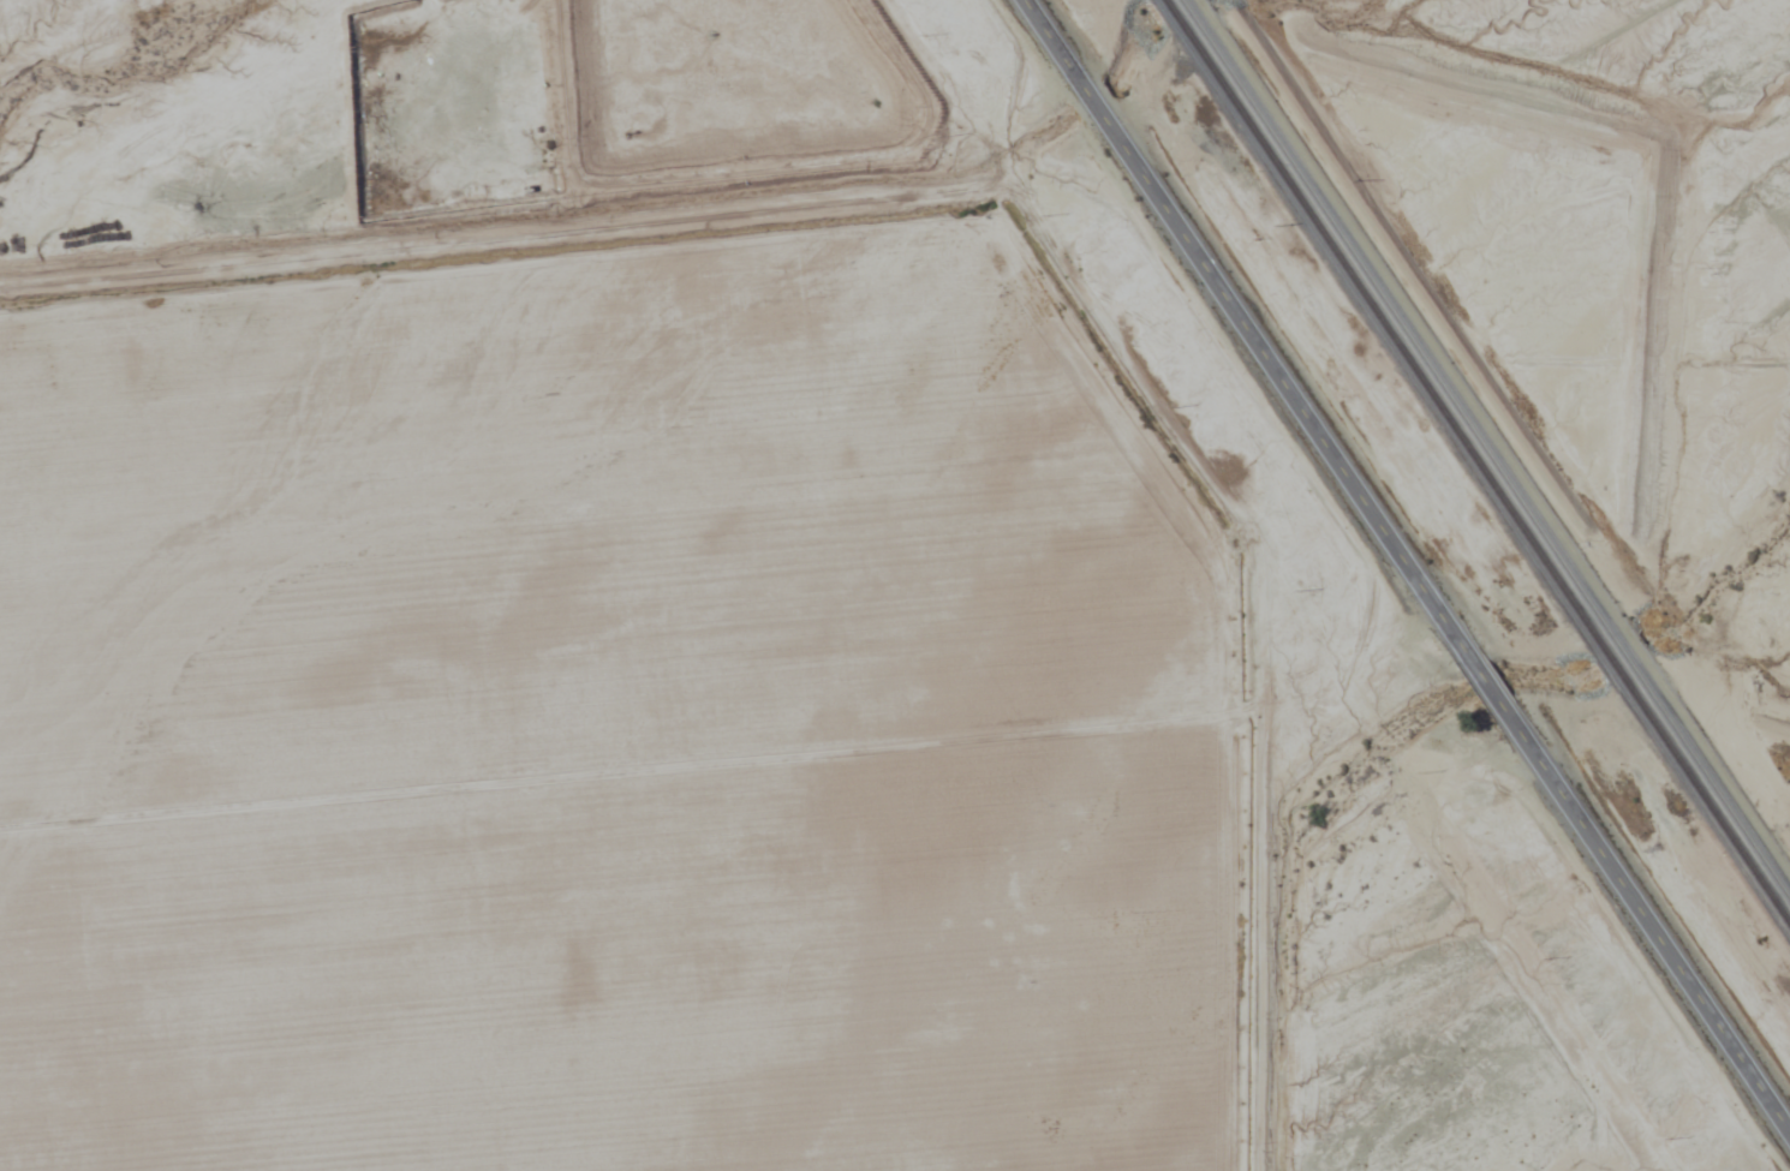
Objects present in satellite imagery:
railway: (1491, 442)
railway: (1479, 459)
road: (1407, 564)

